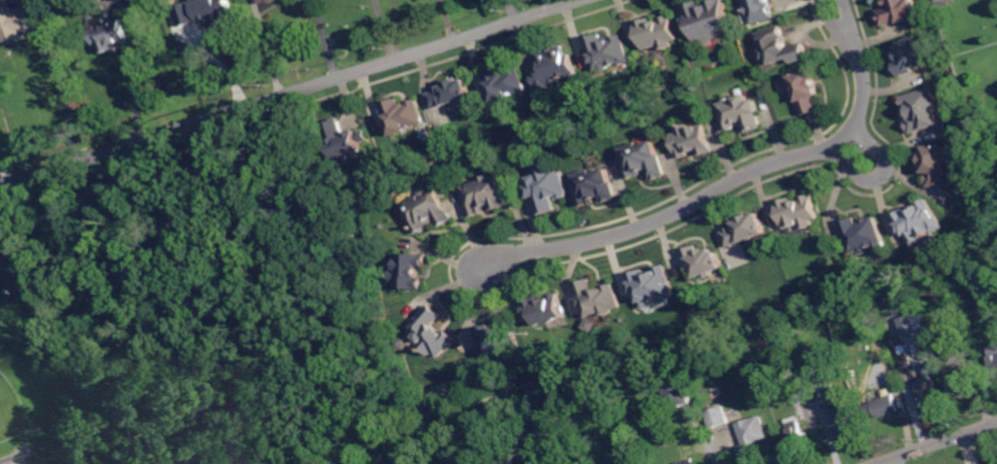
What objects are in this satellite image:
road: (568, 0)
building: (264, 1)
building: (944, 2)
building: (212, 9)
building: (760, 10)
building: (900, 12)
building: (708, 20)
building: (16, 22)
building: (658, 33)
building: (108, 34)
road: (325, 38)
building: (781, 48)
building: (608, 51)
building: (910, 56)
building: (554, 70)
road: (61, 77)
building: (505, 83)
road: (134, 86)
building: (807, 91)
road: (286, 94)
building: (451, 94)
building: (923, 110)
building: (741, 113)
building: (404, 116)
building: (692, 139)
building: (345, 142)
building: (989, 151)
building: (644, 160)
building: (936, 164)
road: (4, 170)
road: (880, 174)
road: (731, 180)
building: (548, 186)
building: (595, 186)
building: (485, 194)
building: (429, 210)
building: (799, 211)
building: (919, 222)
building: (744, 229)
building: (862, 234)
parking lot: (2, 242)
building: (702, 260)
building: (411, 269)
building: (653, 286)
building: (599, 298)
building: (545, 307)
park: (183, 314)
building: (592, 325)
building: (908, 326)
building: (434, 332)
building: (785, 334)
building: (499, 340)
building: (403, 342)
building: (959, 344)
building: (902, 356)
building: (994, 364)
building: (958, 381)
building: (677, 393)
building: (928, 393)
building: (800, 395)
building: (879, 407)
park: (11, 411)
building: (838, 412)
building: (717, 417)
building: (795, 435)
building: (661, 440)
building: (752, 441)
road: (937, 443)
building: (688, 461)
building: (996, 463)

